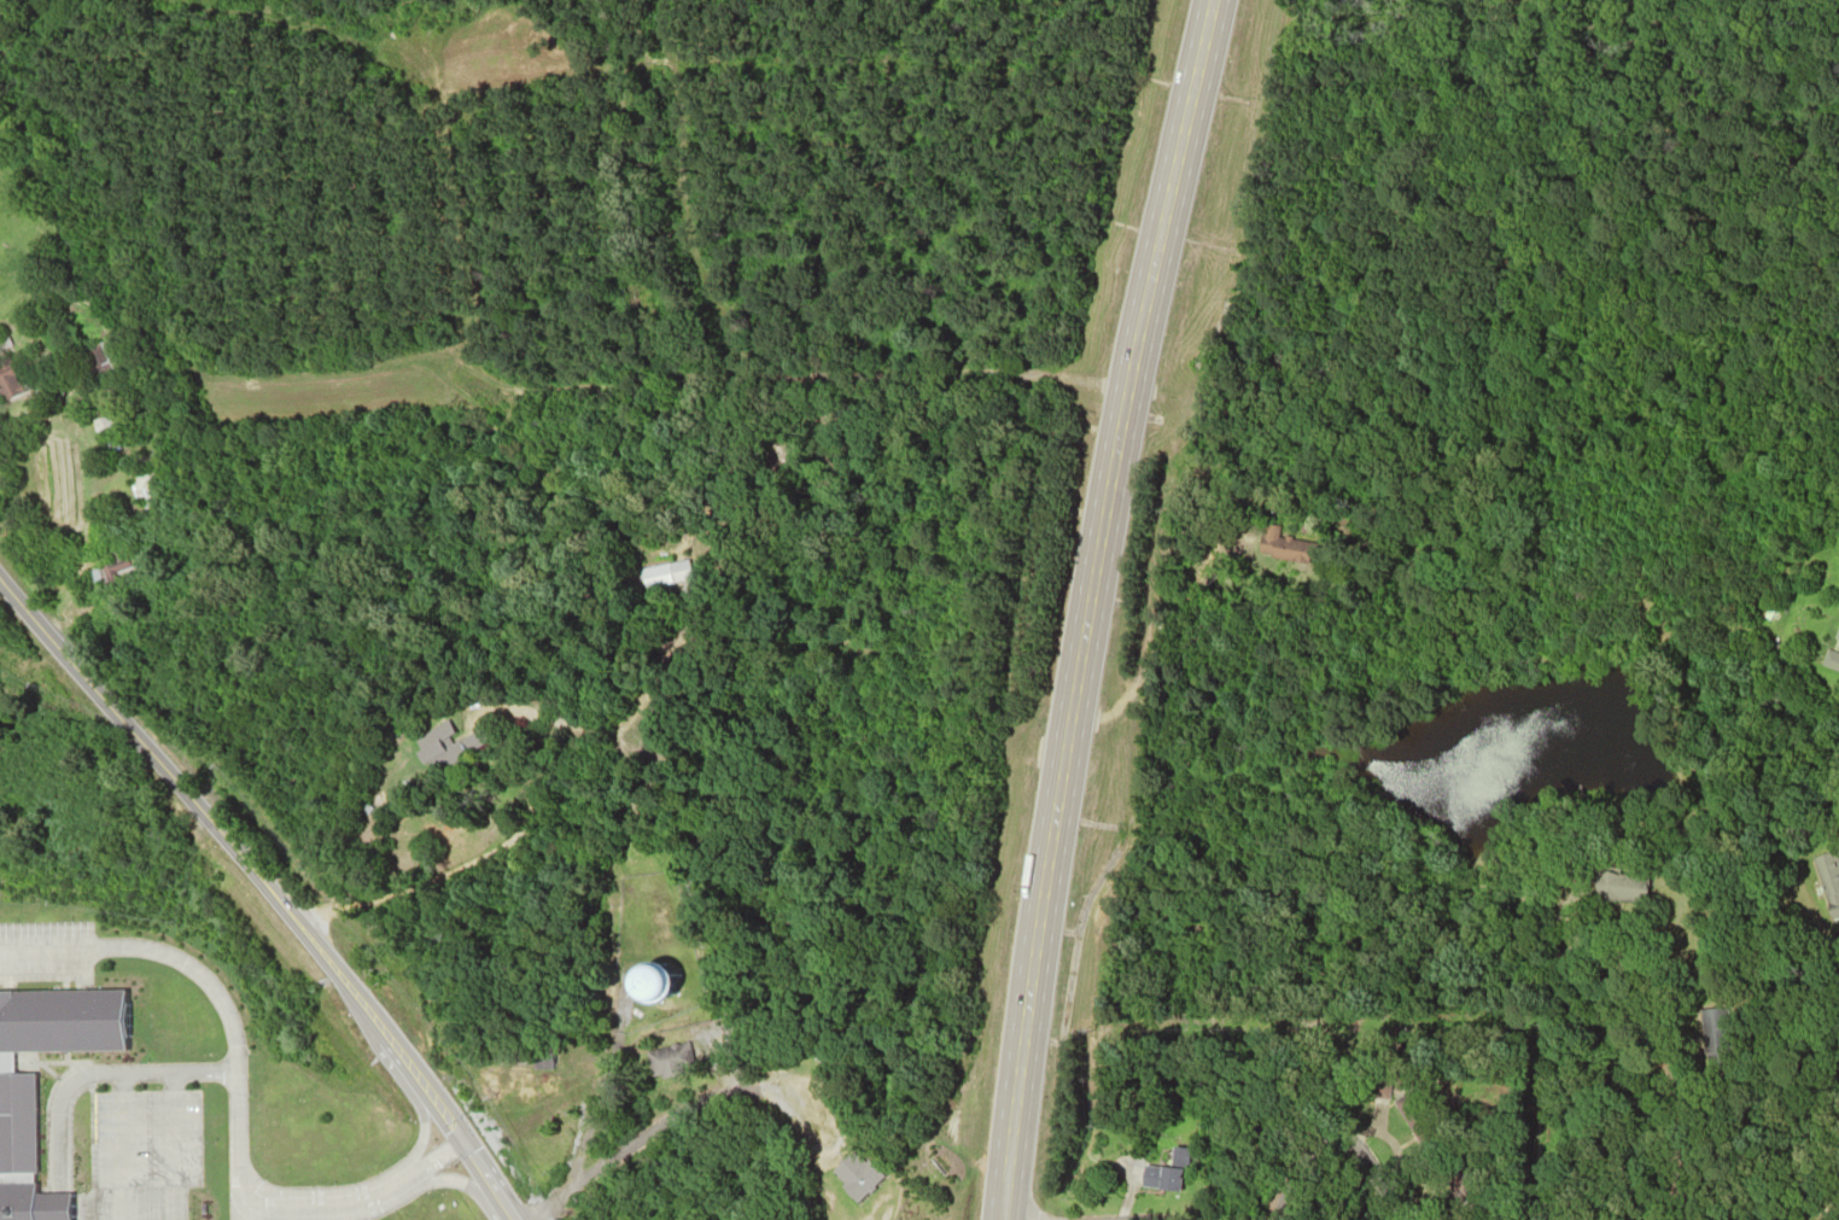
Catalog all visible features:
road: (682, 194)
building: (98, 360)
road: (1132, 362)
building: (7, 381)
building: (112, 422)
building: (141, 489)
building: (1292, 543)
building: (110, 571)
building: (662, 577)
building: (1833, 649)
building: (451, 745)
building: (1826, 878)
building: (1618, 888)
road: (267, 891)
road: (1029, 973)
building: (653, 985)
road: (210, 986)
water tower: (654, 988)
road: (1315, 1029)
building: (1714, 1038)
building: (670, 1060)
building: (543, 1061)
road: (98, 1074)
road: (711, 1095)
road: (592, 1105)
building: (1409, 1109)
road: (1351, 1123)
building: (17, 1128)
building: (1178, 1156)
building: (858, 1175)
building: (1161, 1177)
building: (1473, 1190)
road: (356, 1198)
road: (238, 1212)
road: (1821, 1216)
road: (1006, 1219)

